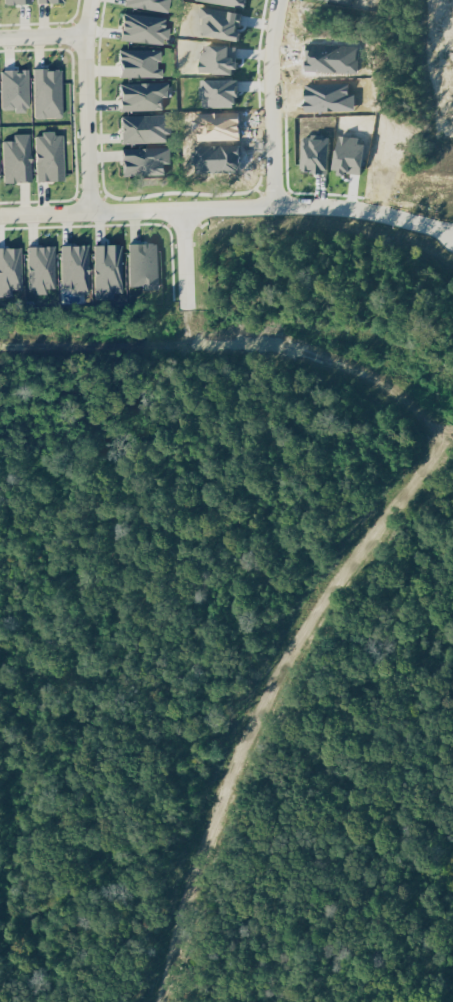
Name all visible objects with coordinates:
building: (54, 1)
building: (21, 2)
building: (151, 4)
building: (148, 29)
road: (44, 34)
building: (143, 63)
building: (0, 85)
building: (52, 92)
building: (146, 96)
road: (272, 102)
road: (88, 105)
building: (149, 129)
building: (53, 157)
building: (21, 159)
building: (149, 161)
building: (1, 164)
road: (228, 206)
building: (148, 266)
building: (45, 269)
building: (79, 269)
building: (112, 270)
building: (12, 271)
road: (186, 274)
road: (269, 337)
road: (130, 340)
road: (103, 502)
road: (285, 681)
road: (101, 734)
road: (102, 899)

